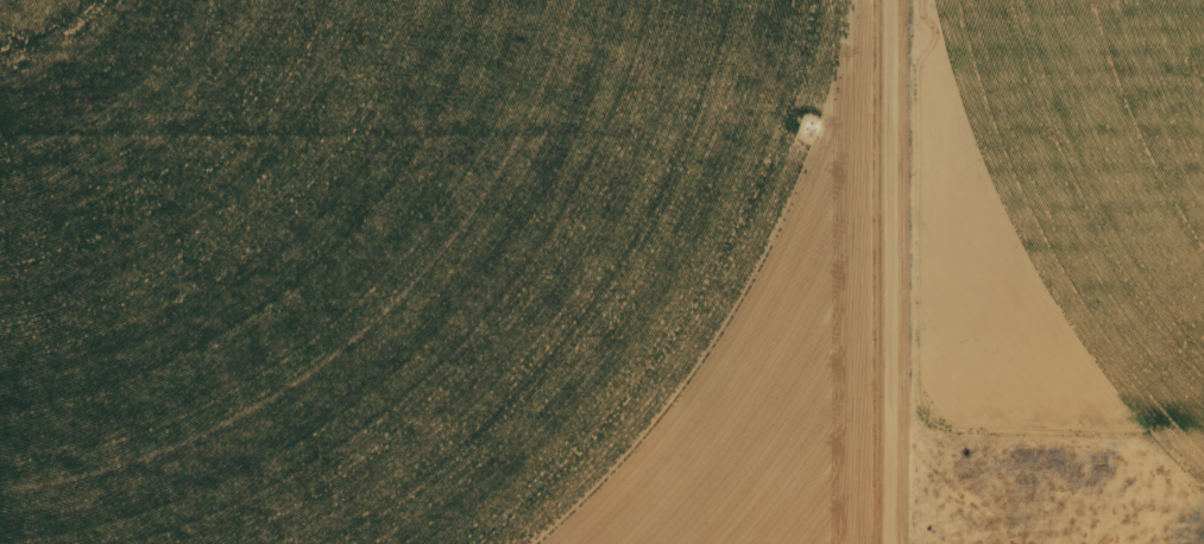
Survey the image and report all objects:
road: (887, 272)

